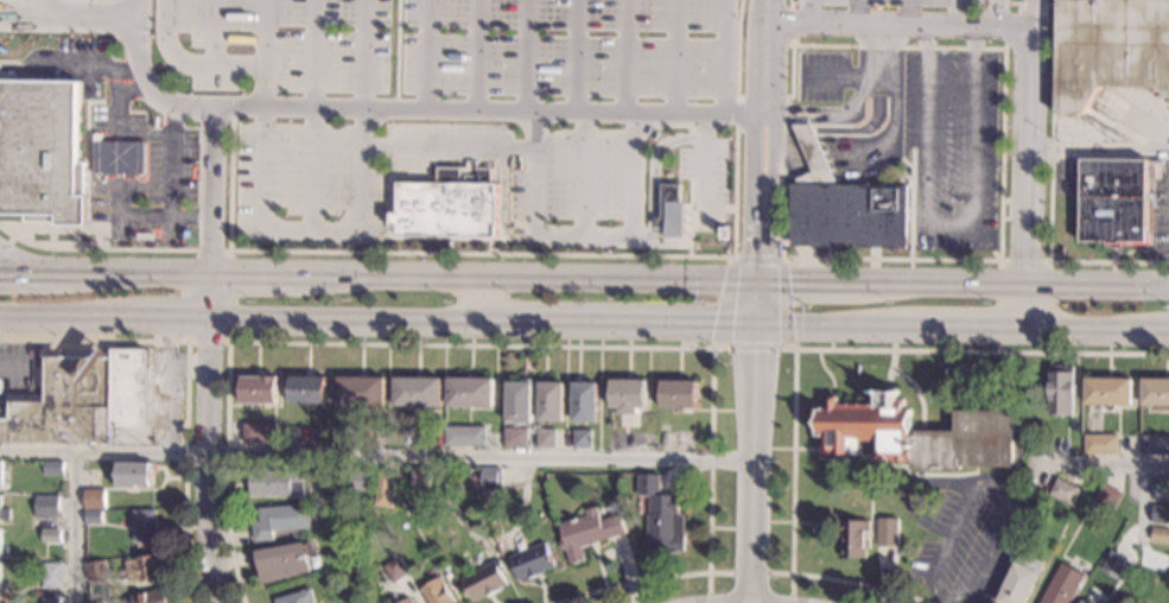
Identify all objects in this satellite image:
road: (1054, 1)
road: (788, 2)
parking lot: (895, 2)
road: (1023, 2)
road: (44, 6)
road: (70, 12)
road: (809, 13)
road: (858, 13)
road: (909, 14)
road: (958, 14)
road: (995, 14)
road: (1033, 15)
road: (789, 25)
road: (895, 27)
road: (214, 32)
parking lot: (277, 44)
parking lot: (568, 47)
road: (976, 47)
building: (1110, 49)
road: (265, 52)
road: (315, 53)
road: (363, 53)
road: (395, 55)
road: (427, 55)
road: (478, 55)
road: (526, 56)
road: (577, 56)
road: (627, 56)
road: (674, 57)
road: (725, 57)
road: (188, 63)
parking lot: (65, 65)
road: (88, 68)
road: (831, 76)
road: (409, 109)
road: (843, 112)
road: (735, 127)
road: (781, 128)
road: (857, 129)
road: (1050, 132)
road: (763, 140)
parking lot: (443, 145)
parking lot: (951, 146)
road: (447, 148)
road: (882, 151)
road: (1097, 151)
building: (42, 152)
building: (119, 157)
building: (812, 158)
road: (172, 159)
road: (709, 160)
road: (313, 167)
road: (587, 173)
parking lot: (142, 174)
road: (653, 174)
parking lot: (577, 176)
road: (230, 178)
road: (1025, 179)
parking lot: (706, 180)
parking lot: (309, 184)
road: (120, 185)
road: (208, 189)
building: (1113, 202)
road: (910, 204)
building: (447, 205)
road: (504, 208)
road: (777, 210)
building: (673, 211)
building: (850, 216)
road: (949, 223)
road: (311, 227)
road: (65, 229)
road: (586, 236)
road: (51, 239)
road: (75, 239)
road: (9, 240)
road: (4, 245)
road: (364, 252)
traffic signals: (763, 253)
road: (889, 259)
road: (1023, 260)
road: (1108, 261)
road: (36, 265)
road: (26, 273)
road: (63, 273)
road: (141, 273)
road: (249, 274)
road: (527, 278)
traffic signals: (763, 281)
traffic signals: (788, 281)
road: (809, 281)
road: (1012, 284)
road: (207, 297)
road: (762, 304)
road: (62, 317)
road: (229, 317)
road: (165, 318)
road: (355, 320)
road: (631, 324)
traffic signals: (709, 326)
traffic signals: (761, 326)
road: (830, 326)
road: (961, 328)
road: (1097, 329)
road: (527, 347)
road: (773, 349)
road: (799, 349)
traffic signals: (760, 353)
road: (185, 379)
road: (913, 383)
building: (307, 389)
building: (259, 391)
building: (1060, 391)
building: (361, 392)
building: (470, 392)
building: (1107, 392)
building: (1155, 392)
building: (418, 393)
building: (628, 393)
building: (678, 394)
building: (81, 399)
building: (519, 401)
building: (551, 401)
building: (585, 402)
building: (260, 432)
building: (465, 436)
building: (917, 436)
building: (516, 438)
building: (546, 438)
building: (582, 438)
building: (1100, 444)
building: (1155, 445)
road: (379, 453)
road: (204, 462)
road: (1088, 462)
road: (756, 464)
building: (53, 468)
building: (0, 472)
building: (134, 474)
building: (420, 477)
building: (491, 477)
building: (363, 481)
building: (278, 482)
building: (1158, 487)
road: (907, 488)
road: (997, 488)
building: (383, 490)
building: (1063, 491)
building: (1106, 496)
building: (95, 499)
road: (1144, 503)
building: (47, 507)
building: (5, 513)
building: (1160, 514)
building: (661, 516)
building: (93, 518)
building: (280, 520)
building: (42, 522)
road: (76, 526)
building: (146, 527)
building: (887, 531)
building: (587, 532)
building: (1160, 534)
building: (51, 537)
building: (854, 538)
building: (0, 541)
building: (1141, 560)
building: (282, 561)
building: (532, 561)
building: (1114, 566)
building: (144, 569)
building: (396, 570)
building: (97, 571)
road: (748, 572)
building: (52, 575)
building: (0, 576)
building: (1021, 579)
building: (484, 580)
building: (1062, 585)
building: (437, 592)
building: (152, 597)
building: (298, 597)
building: (50, 601)
building: (408, 601)
road: (940, 601)
building: (100, 602)
building: (1081, 602)

